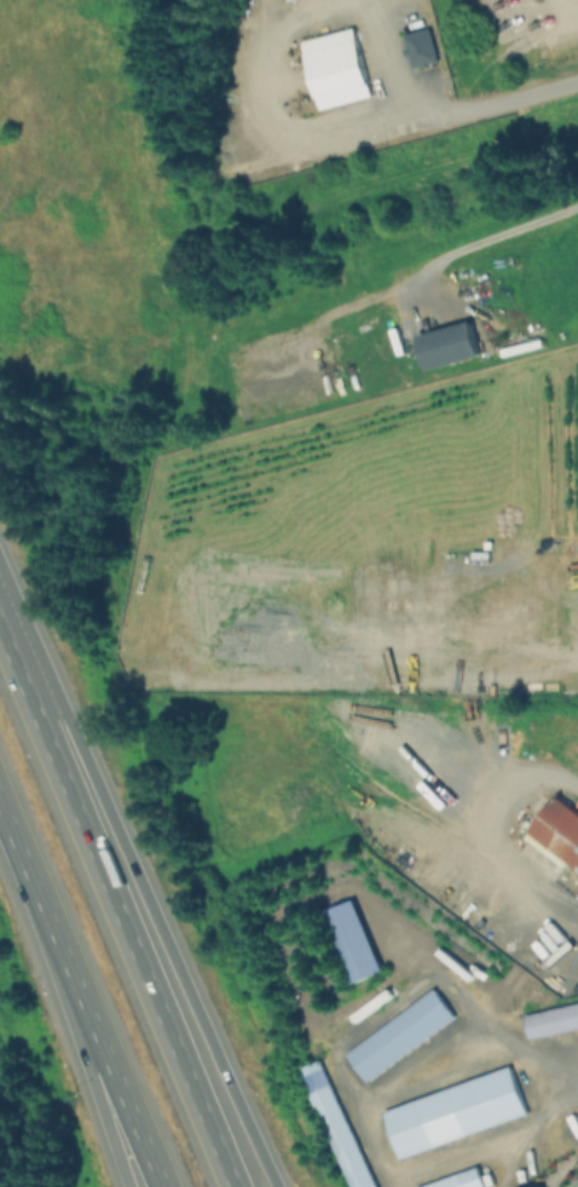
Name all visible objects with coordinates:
building: (289, 0)
road: (272, 16)
building: (418, 47)
road: (386, 59)
building: (336, 68)
road: (336, 131)
road: (495, 241)
building: (447, 346)
road: (491, 831)
building: (557, 832)
road: (139, 899)
road: (111, 921)
road: (281, 922)
building: (348, 940)
road: (377, 1002)
road: (74, 1012)
building: (551, 1020)
building: (399, 1035)
road: (81, 1059)
road: (534, 1061)
road: (423, 1070)
building: (453, 1111)
building: (334, 1124)
road: (487, 1146)
road: (504, 1164)
building: (457, 1179)
building: (572, 1183)

